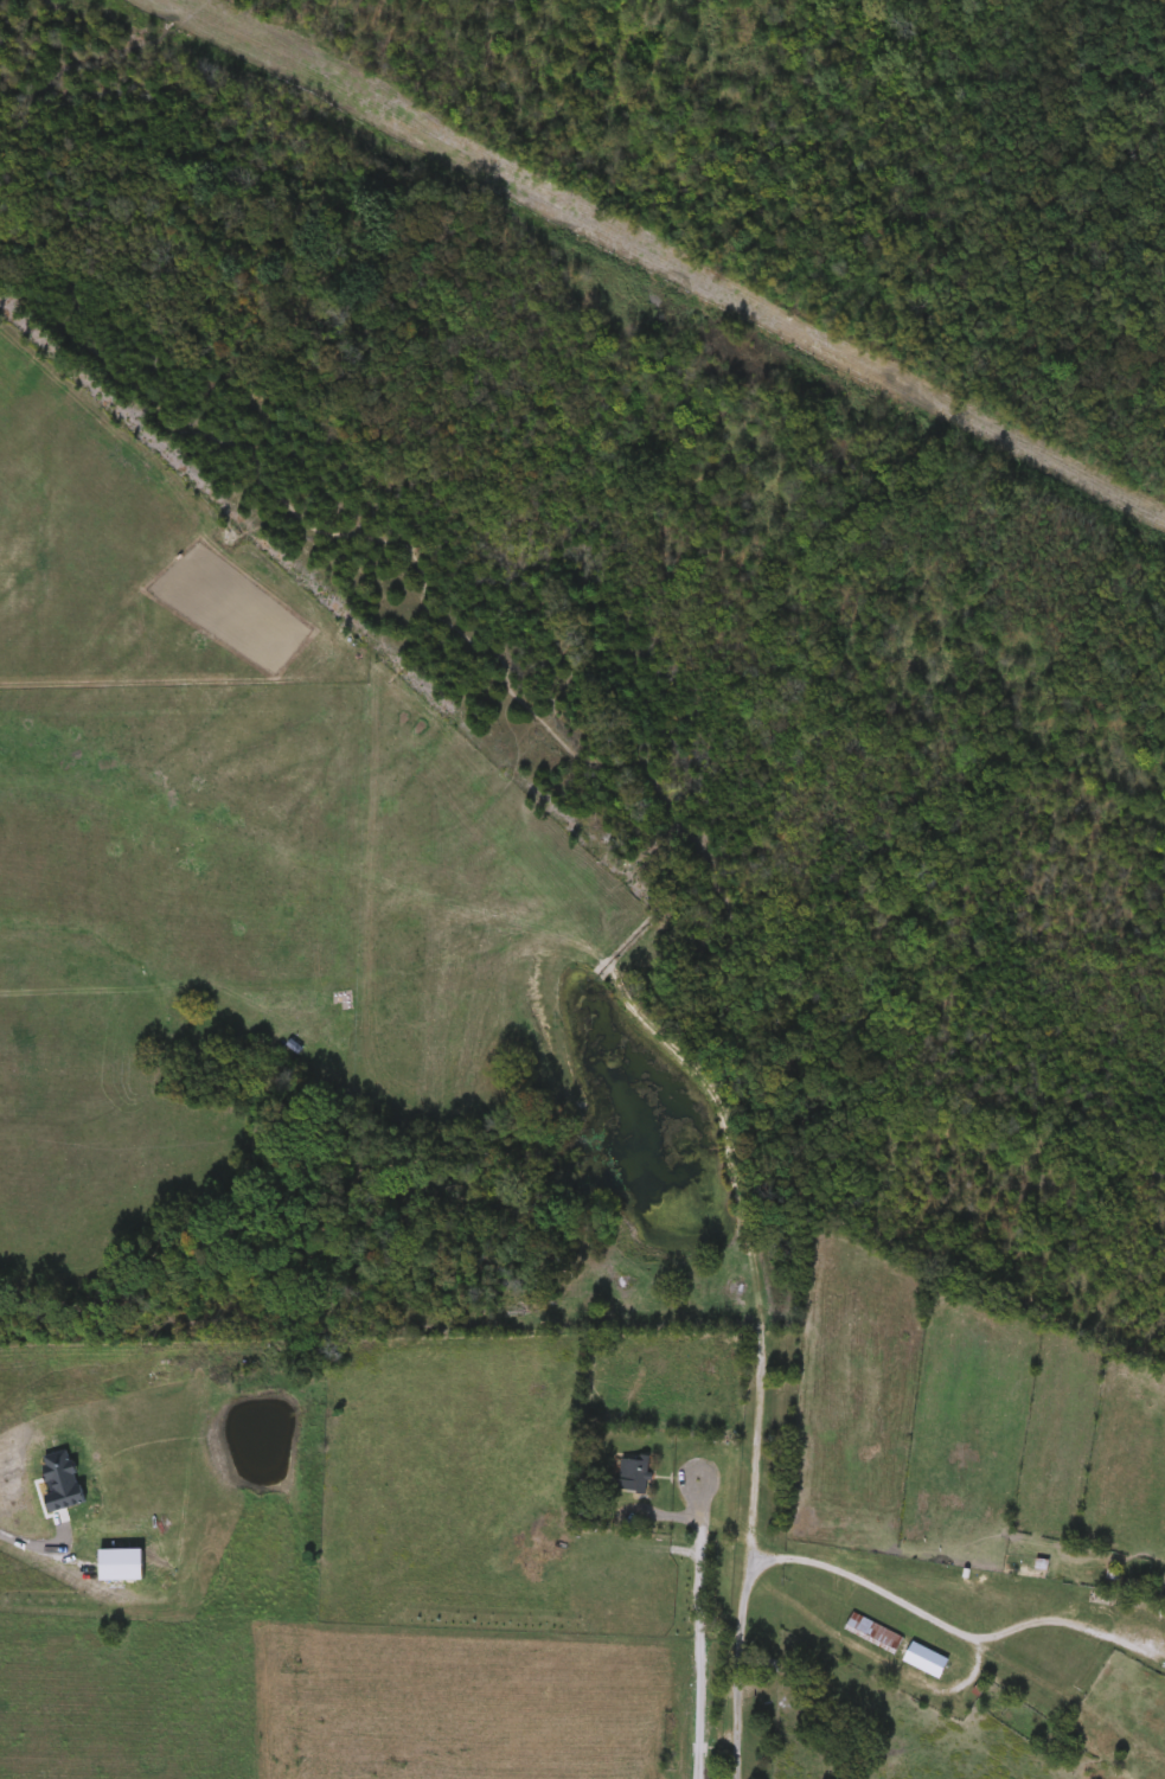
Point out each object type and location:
building: (634, 1478)
road: (44, 1542)
road: (744, 1578)
road: (960, 1631)
building: (895, 1646)
road: (698, 1657)
building: (699, 1739)

